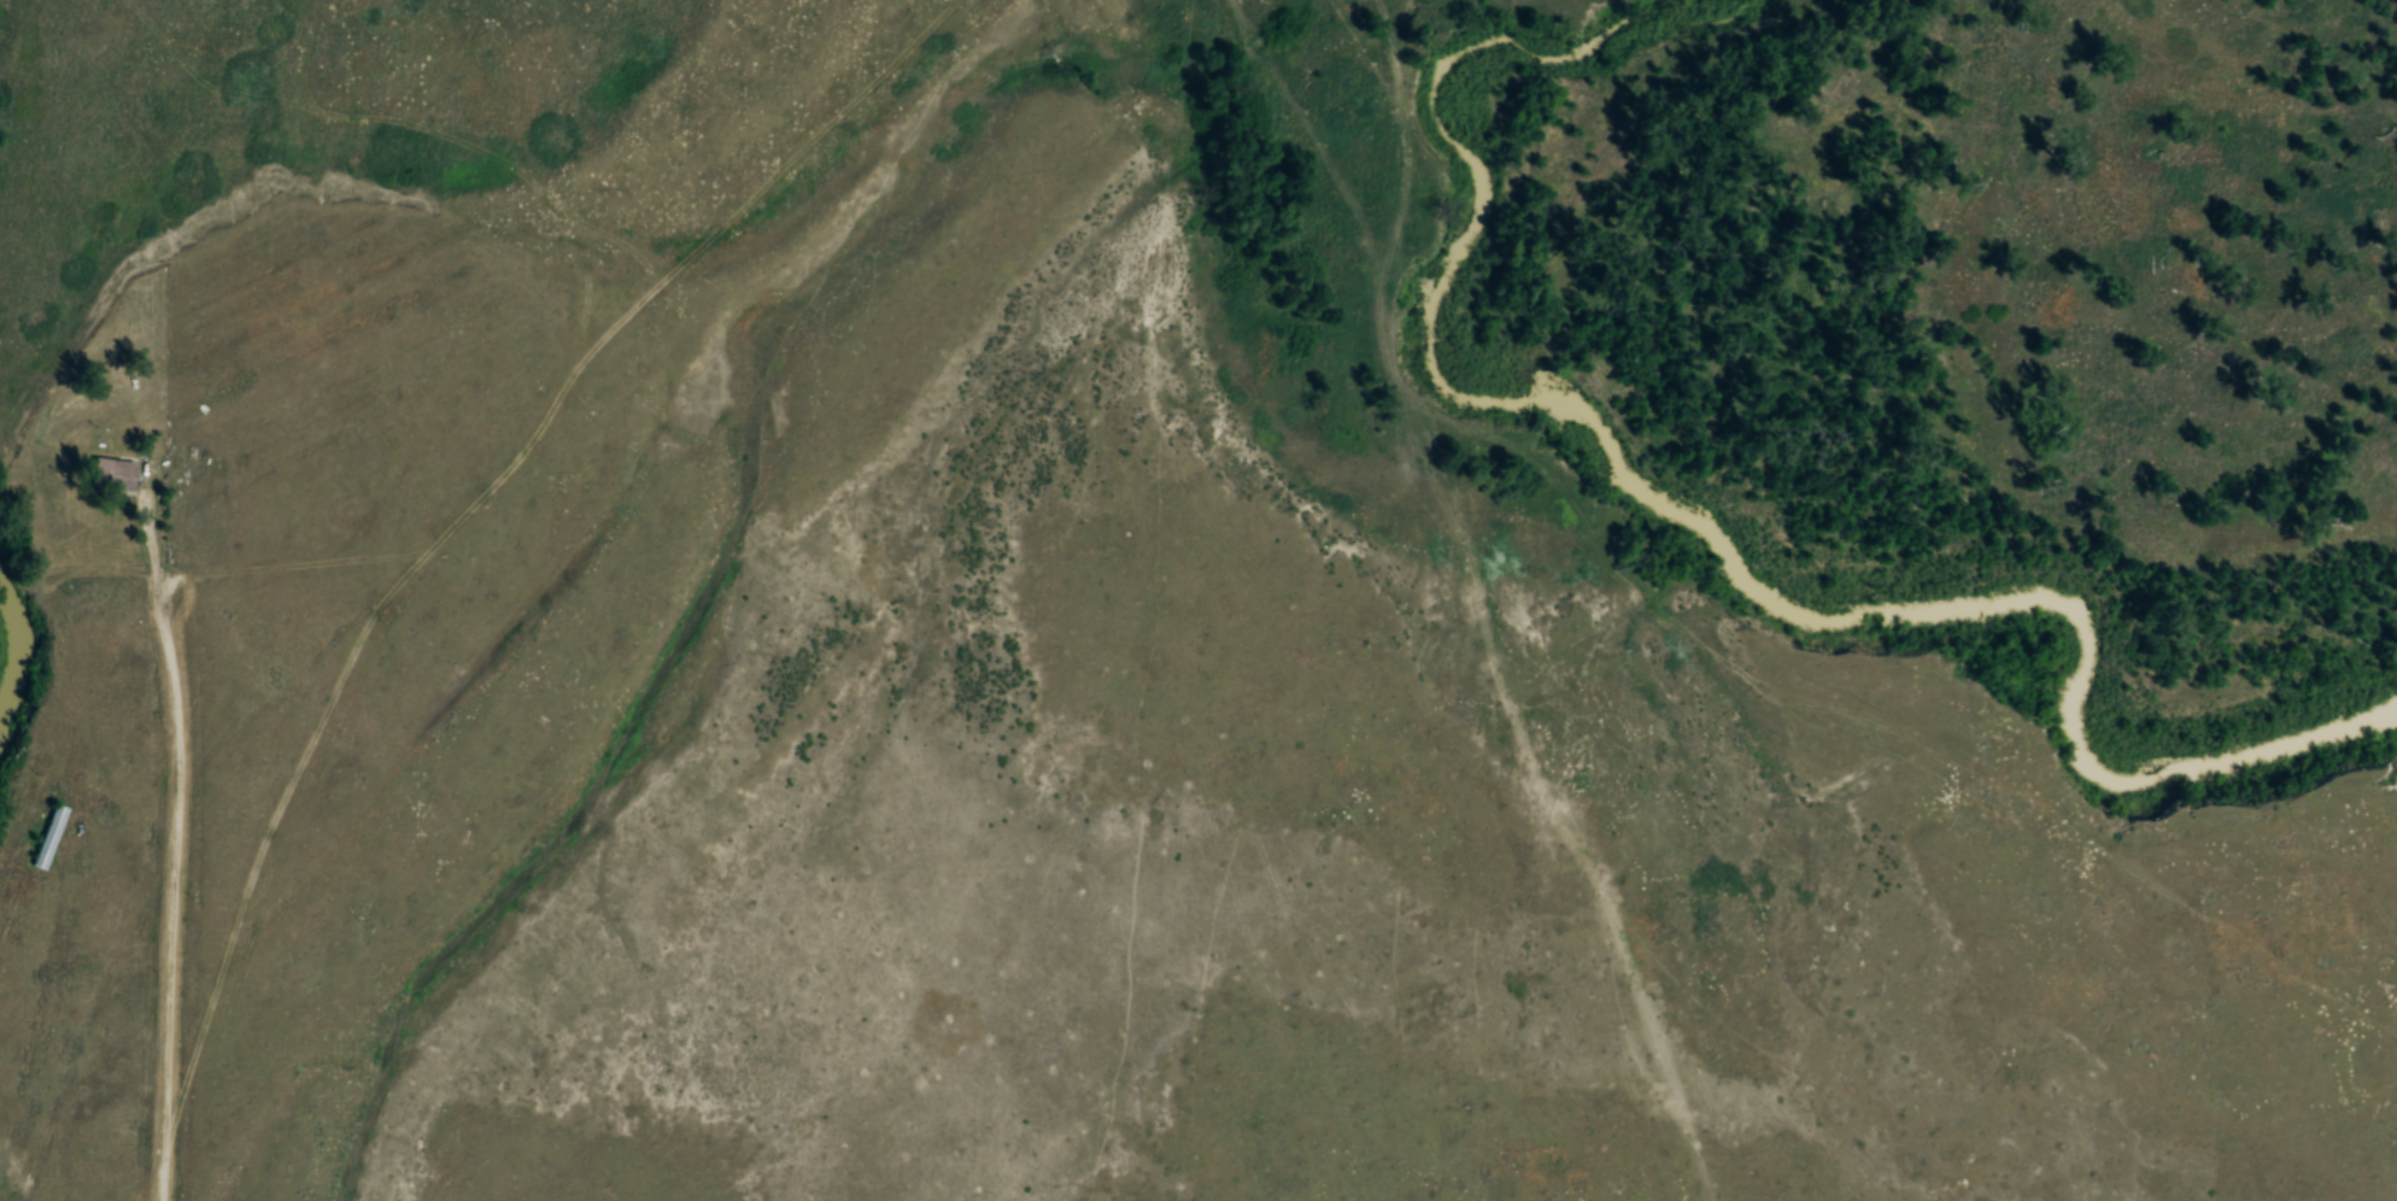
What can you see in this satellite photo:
building: (111, 473)
river: (1645, 493)
river: (18, 654)
building: (49, 837)
road: (168, 859)

